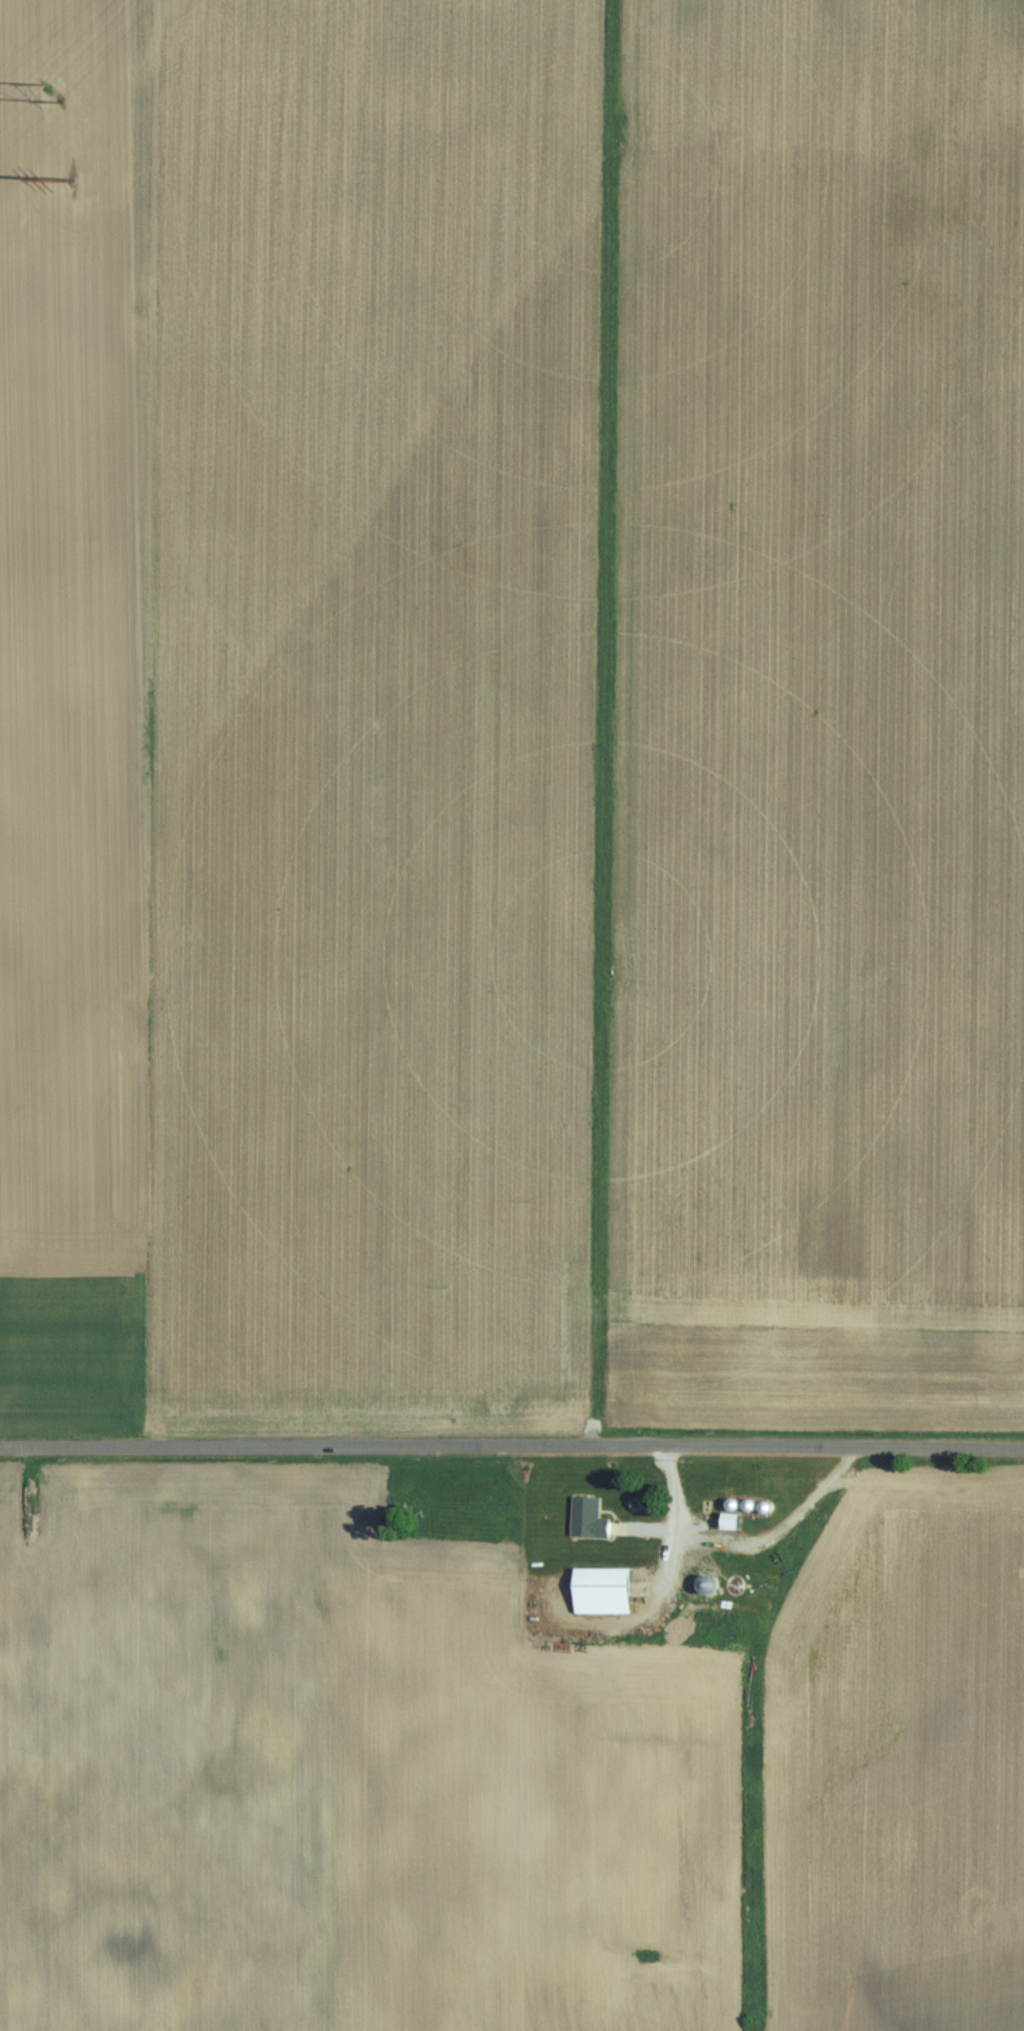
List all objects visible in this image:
power tower: (49, 92)
power tower: (75, 182)
road: (511, 1446)
building: (588, 1517)
building: (731, 1520)
road: (746, 1543)
building: (734, 1584)
building: (603, 1589)

